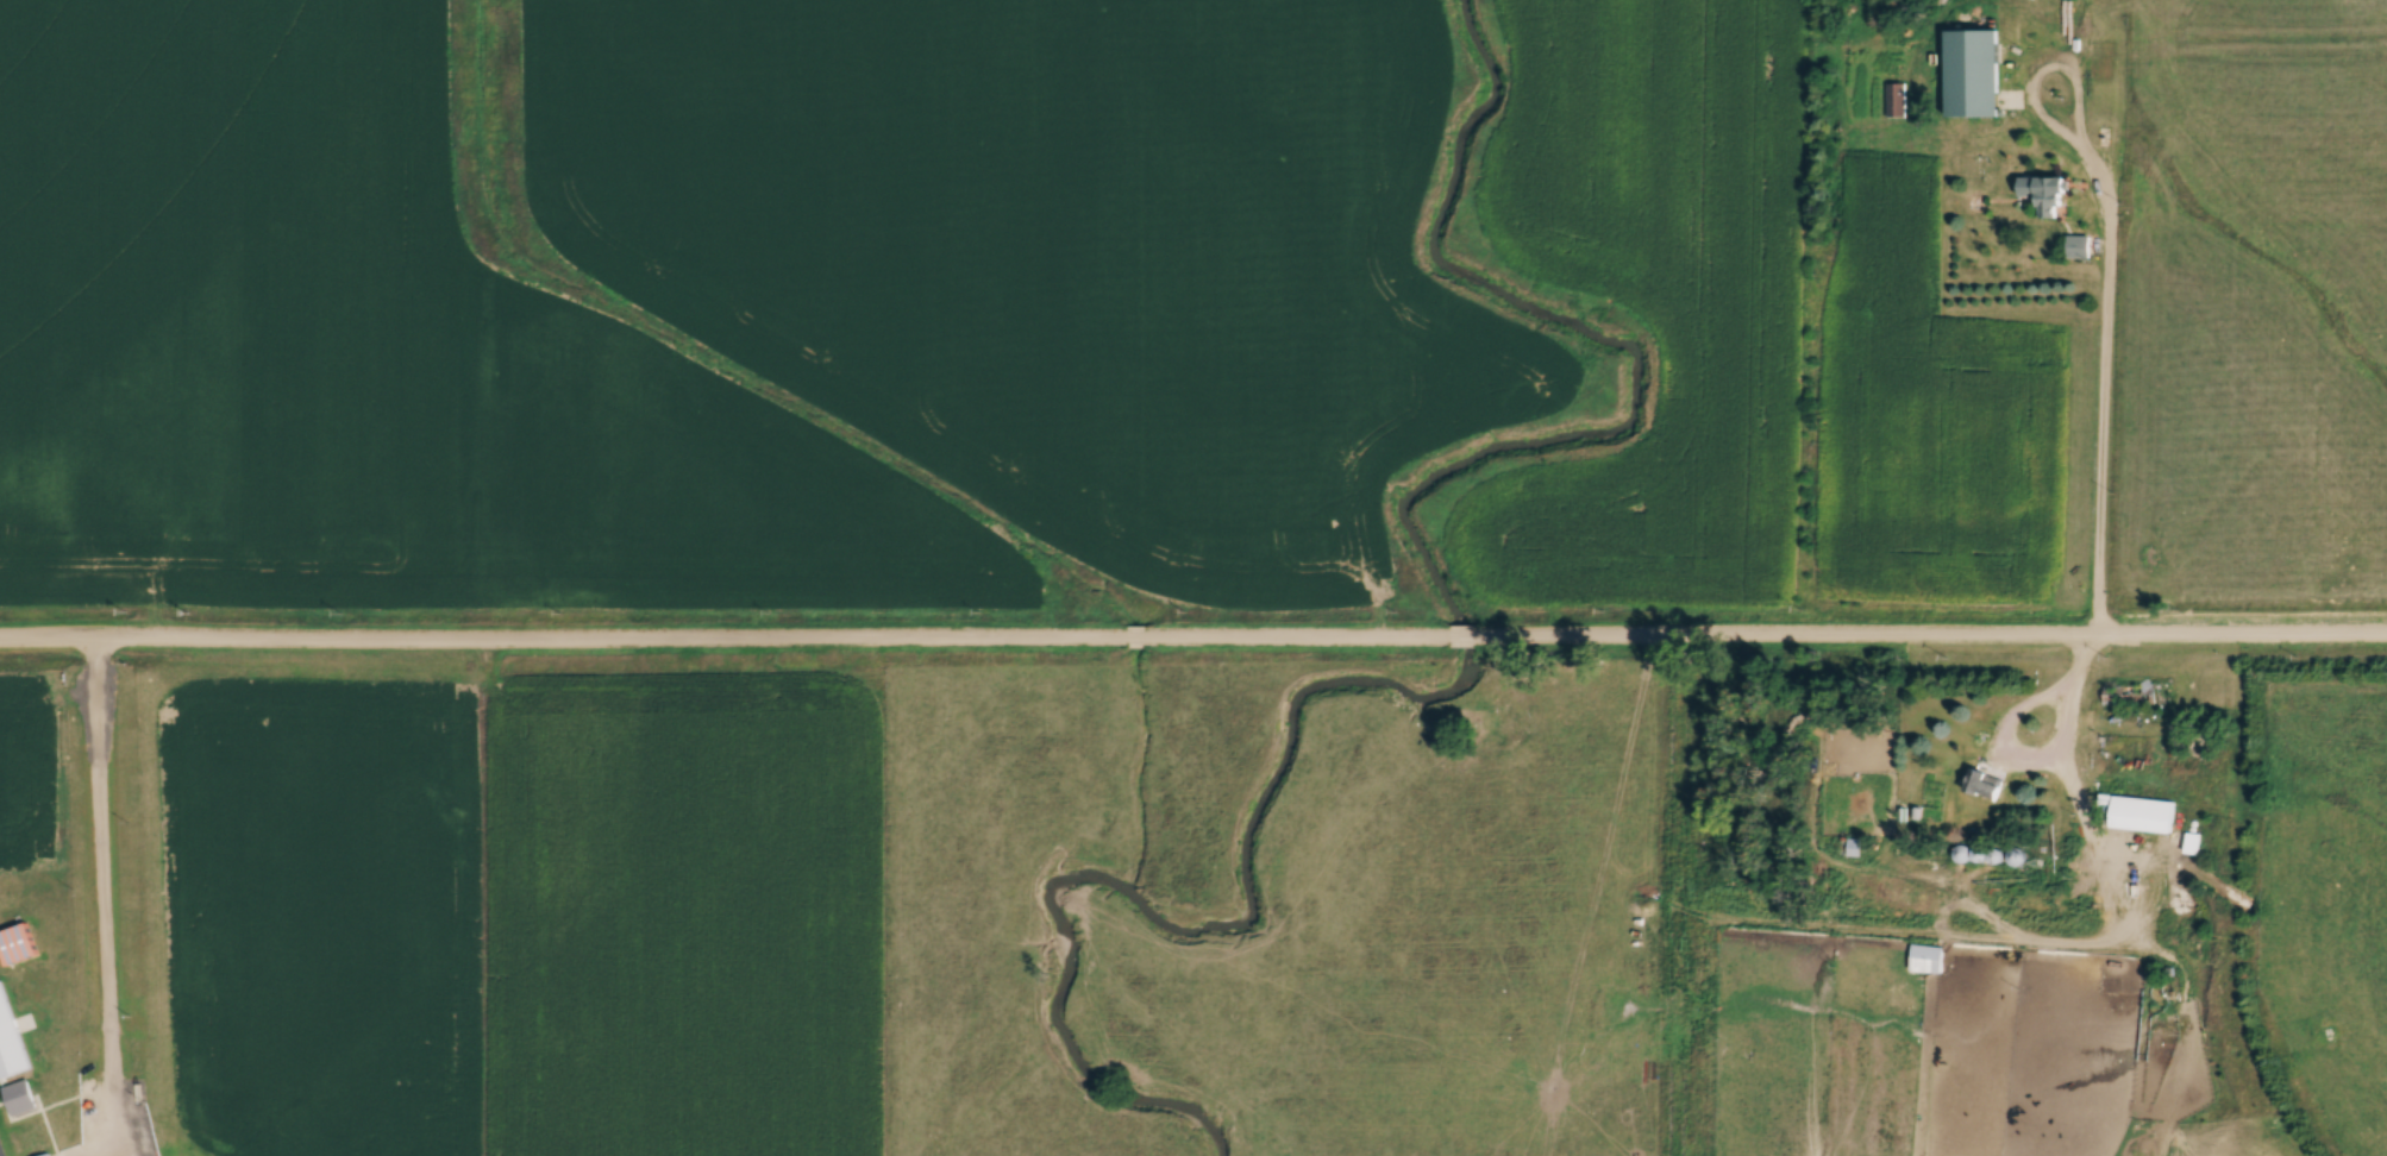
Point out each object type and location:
building: (1976, 70)
building: (2045, 193)
building: (2079, 245)
crop: (1071, 255)
crop: (1653, 297)
road: (2104, 390)
crop: (1935, 425)
road: (726, 635)
road: (1464, 637)
road: (1930, 637)
river: (1467, 659)
road: (2045, 762)
building: (1986, 784)
building: (2145, 813)
road: (104, 897)
airport: (93, 942)
airport hangar: (17, 943)
building: (17, 943)
airport taxiway: (0, 950)
building: (1926, 957)
building: (19, 1095)
building: (44, 1154)

